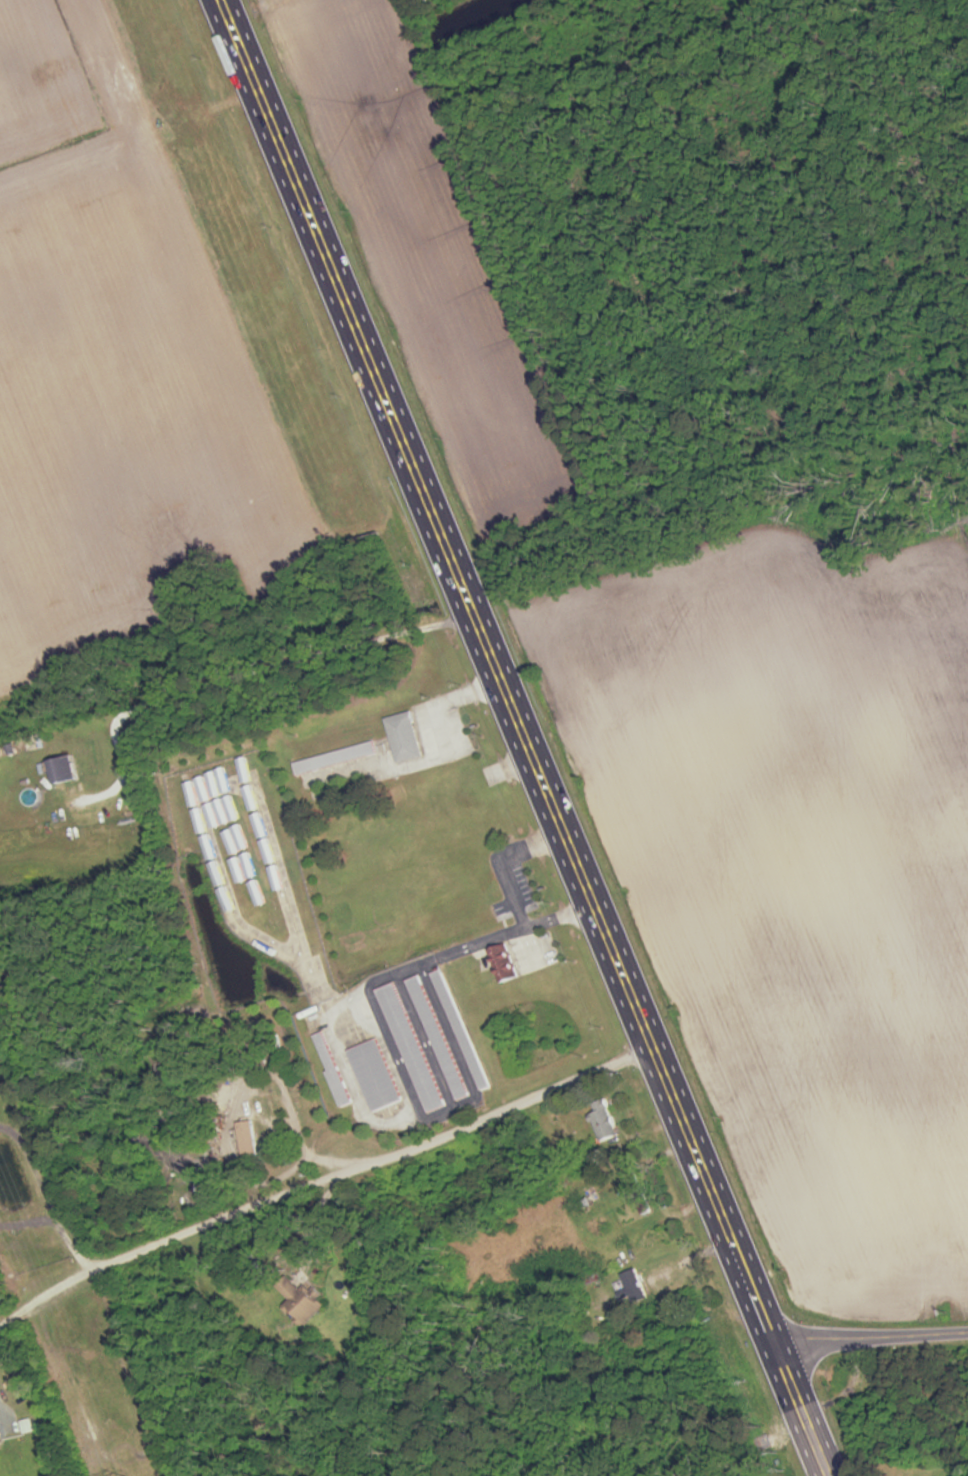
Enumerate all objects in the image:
road: (443, 701)
building: (404, 737)
road: (524, 738)
building: (334, 758)
building: (64, 769)
building: (503, 963)
building: (438, 1038)
building: (411, 1048)
building: (332, 1069)
building: (374, 1075)
building: (603, 1120)
building: (248, 1139)
road: (386, 1162)
road: (53, 1284)
building: (635, 1284)
building: (301, 1298)
road: (872, 1337)
road: (1, 1420)

